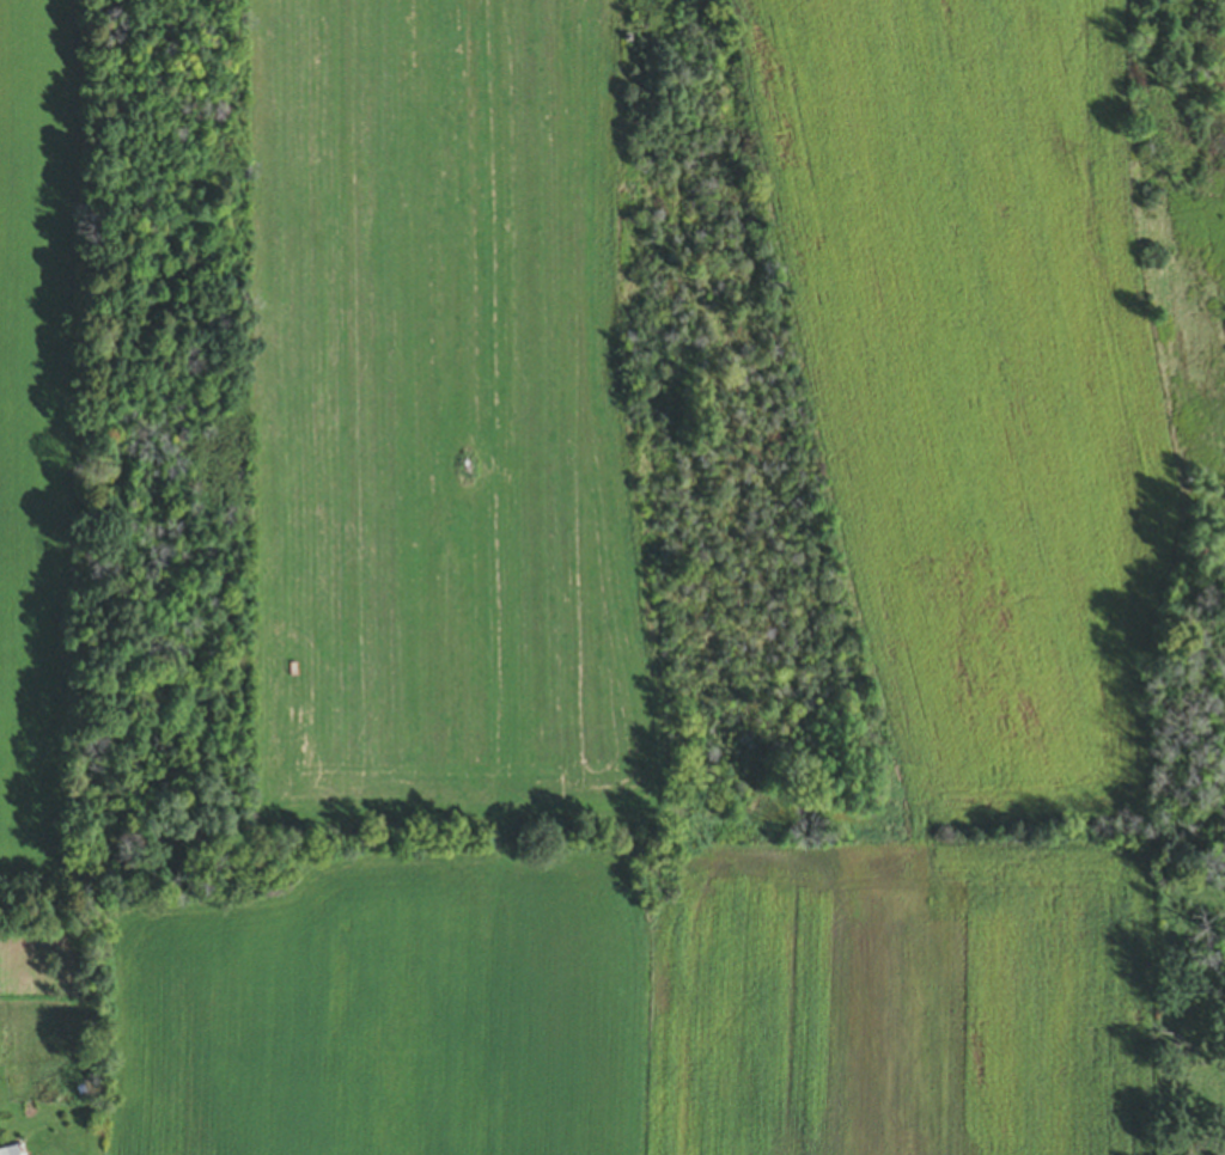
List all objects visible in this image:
building: (13, 1153)

